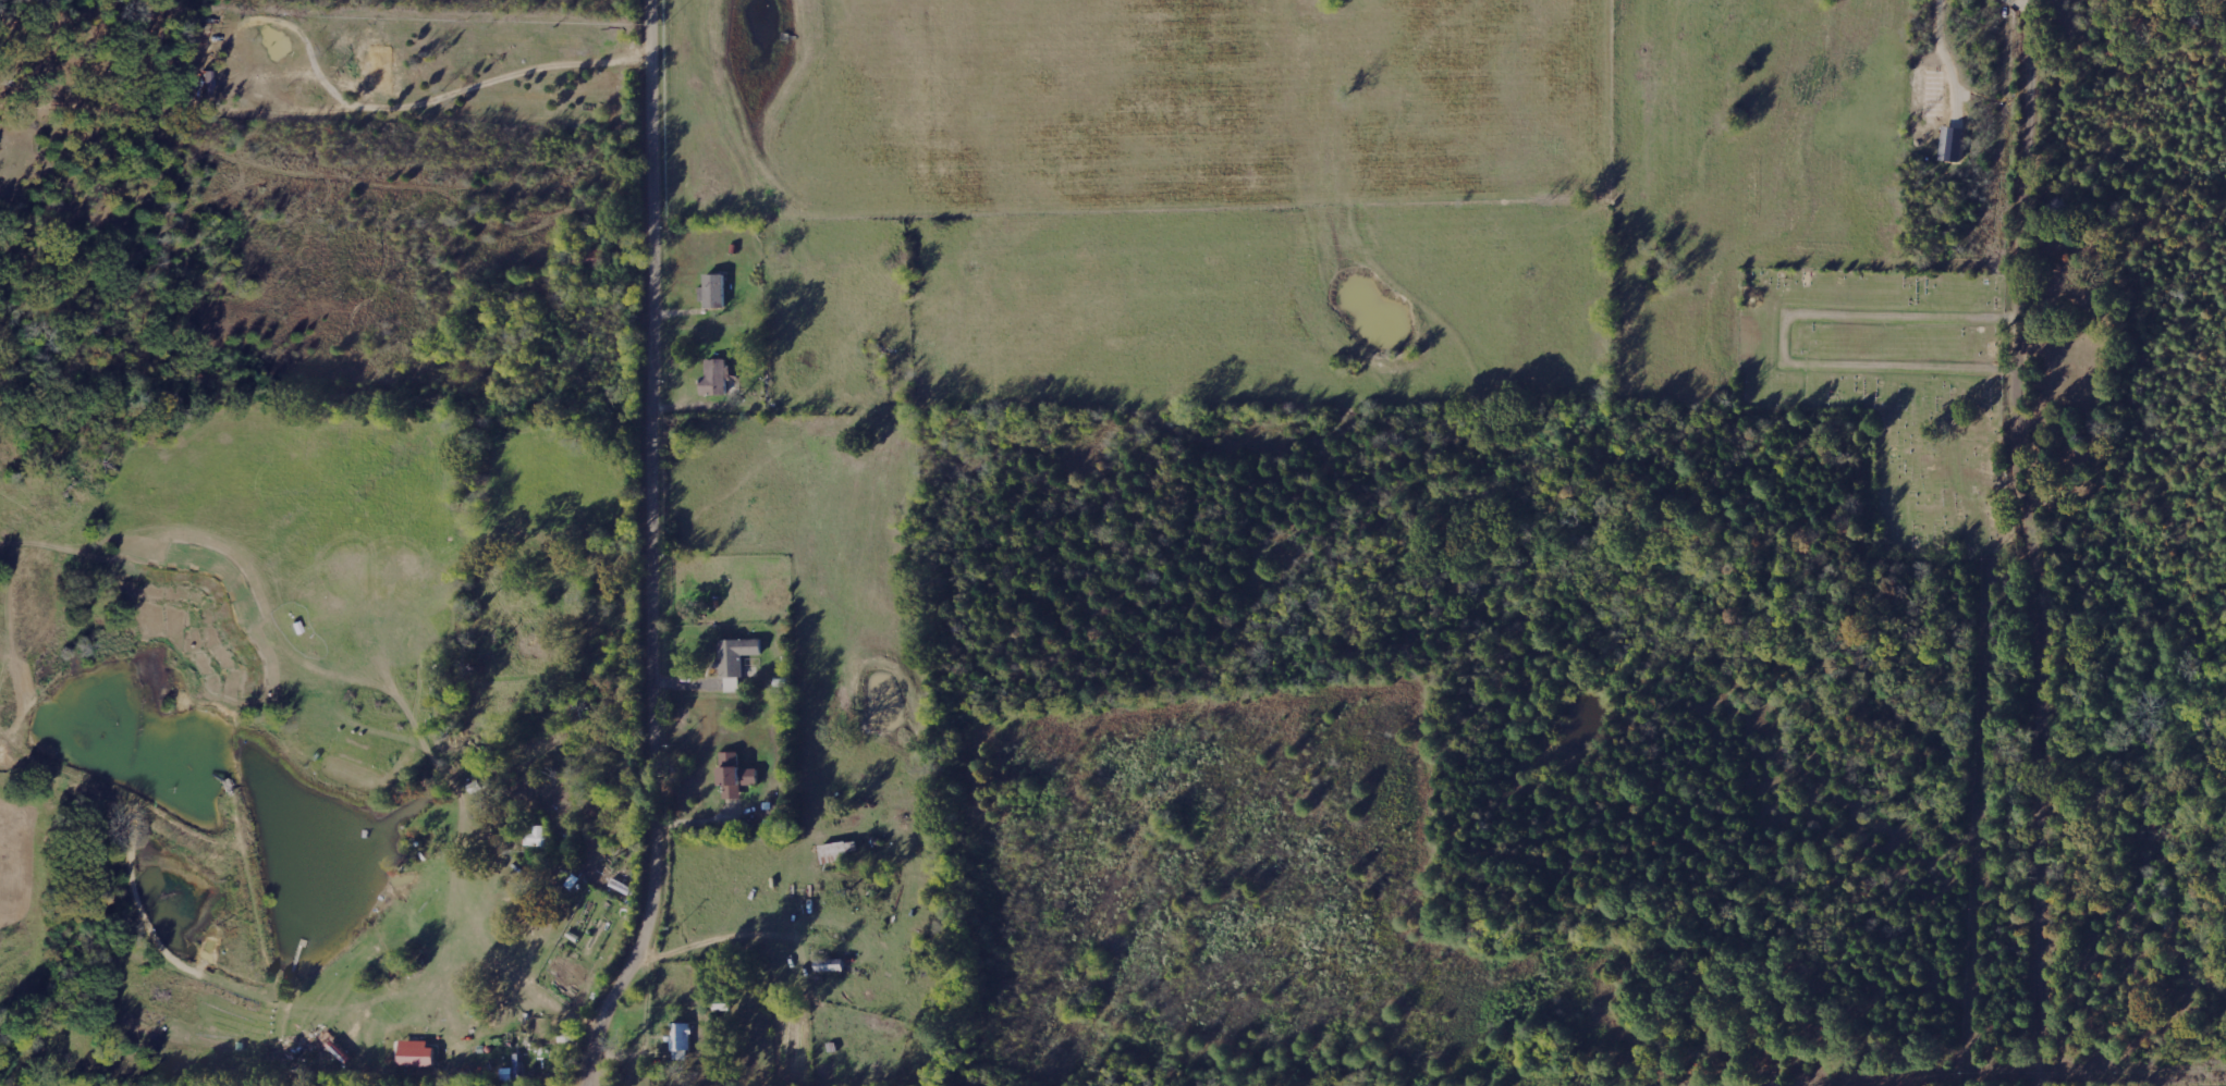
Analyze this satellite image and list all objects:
building: (713, 292)
building: (715, 378)
park: (1892, 394)
road: (2041, 542)
road: (647, 550)
building: (735, 661)
building: (735, 776)
building: (840, 852)
building: (831, 966)
building: (681, 1040)
building: (417, 1053)

